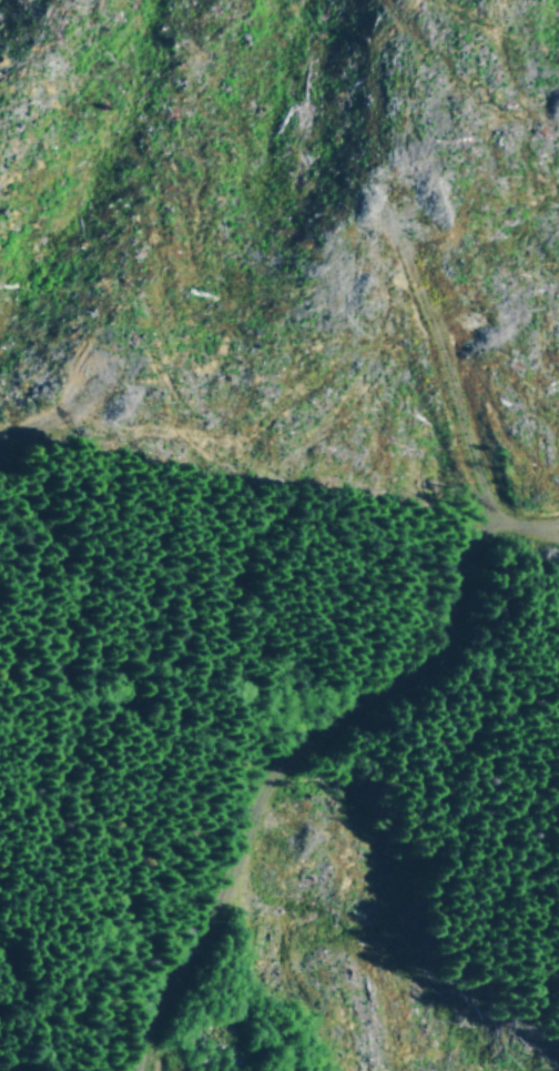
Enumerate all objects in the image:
road: (316, 741)
road: (27, 978)
quarry: (202, 1045)
road: (139, 1054)

